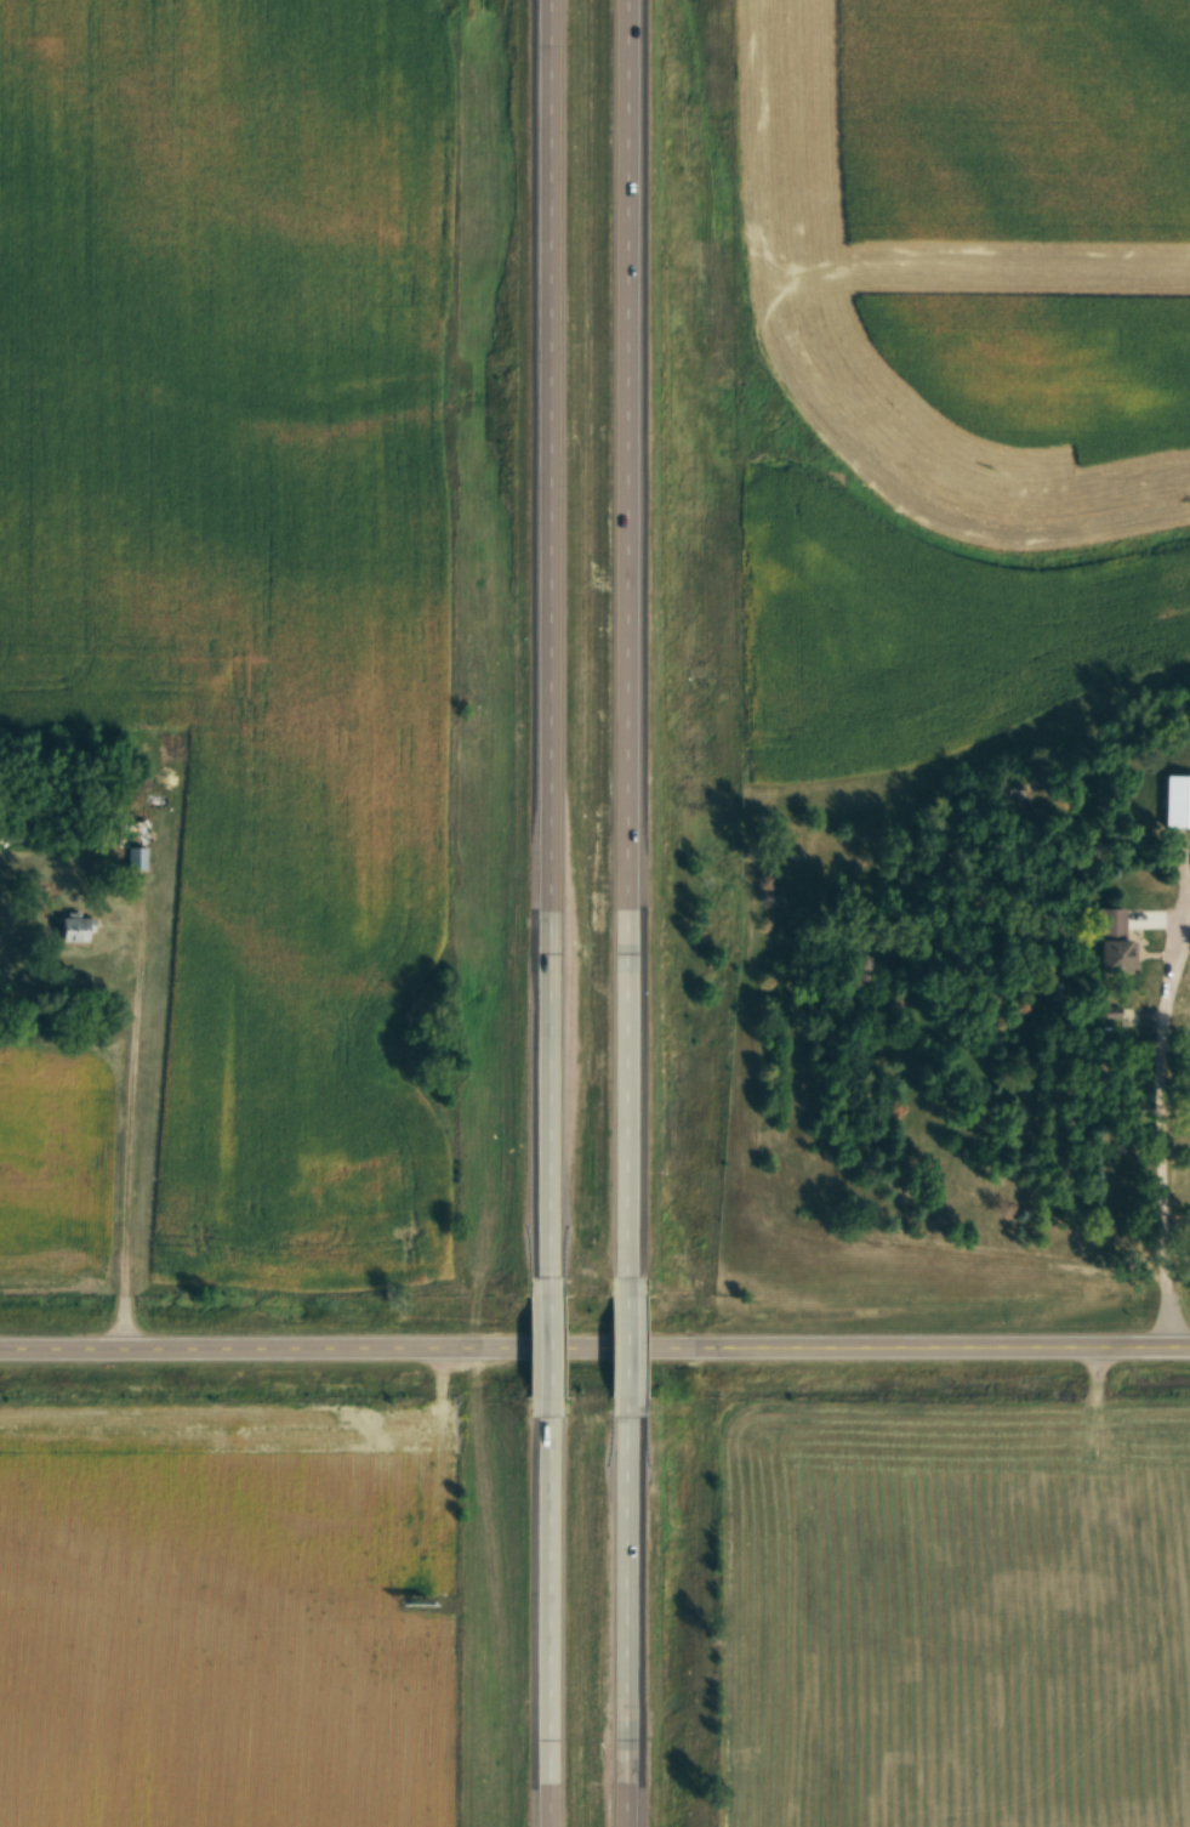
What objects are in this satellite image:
road: (625, 634)
road: (545, 635)
building: (1174, 800)
building: (132, 842)
building: (69, 929)
building: (1106, 938)
road: (1161, 1117)
road: (129, 1125)
road: (594, 1339)
road: (626, 1341)
road: (545, 1343)
road: (543, 1621)
road: (626, 1622)

